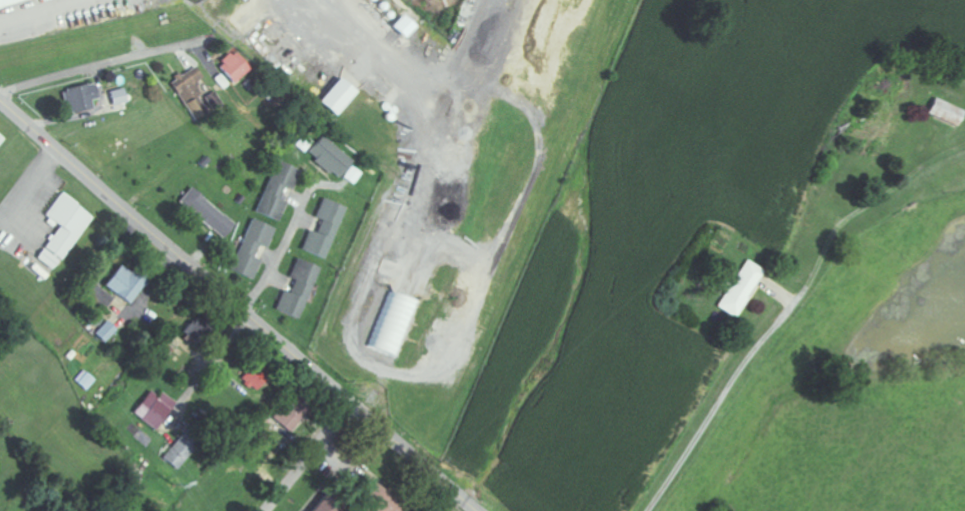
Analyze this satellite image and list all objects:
building: (244, 0)
building: (7, 2)
building: (402, 27)
road: (103, 65)
building: (235, 67)
building: (193, 94)
building: (80, 96)
building: (337, 96)
building: (118, 97)
building: (944, 112)
building: (1, 139)
building: (330, 157)
building: (278, 190)
building: (207, 212)
building: (325, 229)
building: (65, 230)
building: (252, 248)
building: (125, 283)
building: (738, 288)
building: (299, 289)
road: (237, 308)
building: (391, 325)
building: (107, 331)
road: (718, 404)
building: (154, 408)
building: (178, 454)
road: (311, 457)
building: (374, 498)
building: (322, 505)

